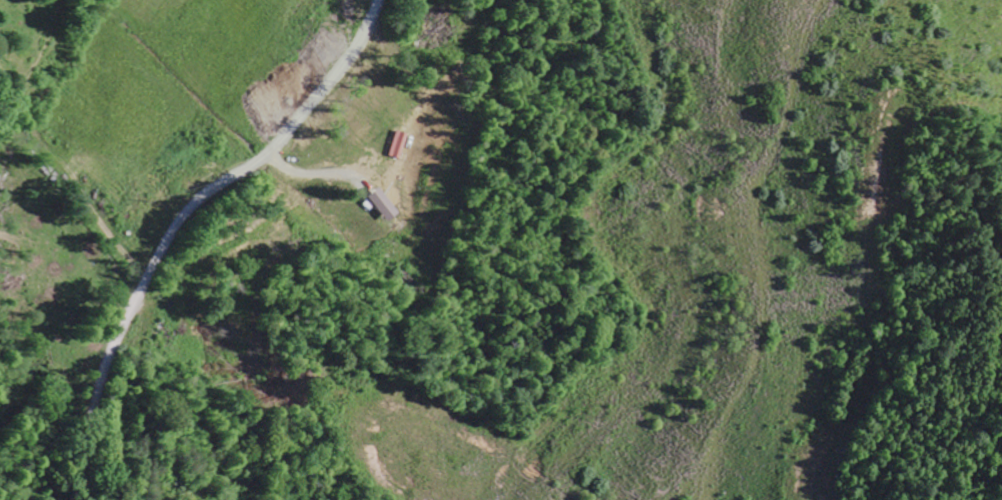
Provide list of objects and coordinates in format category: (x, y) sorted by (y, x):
building: (400, 144)
building: (386, 205)
road: (181, 220)

